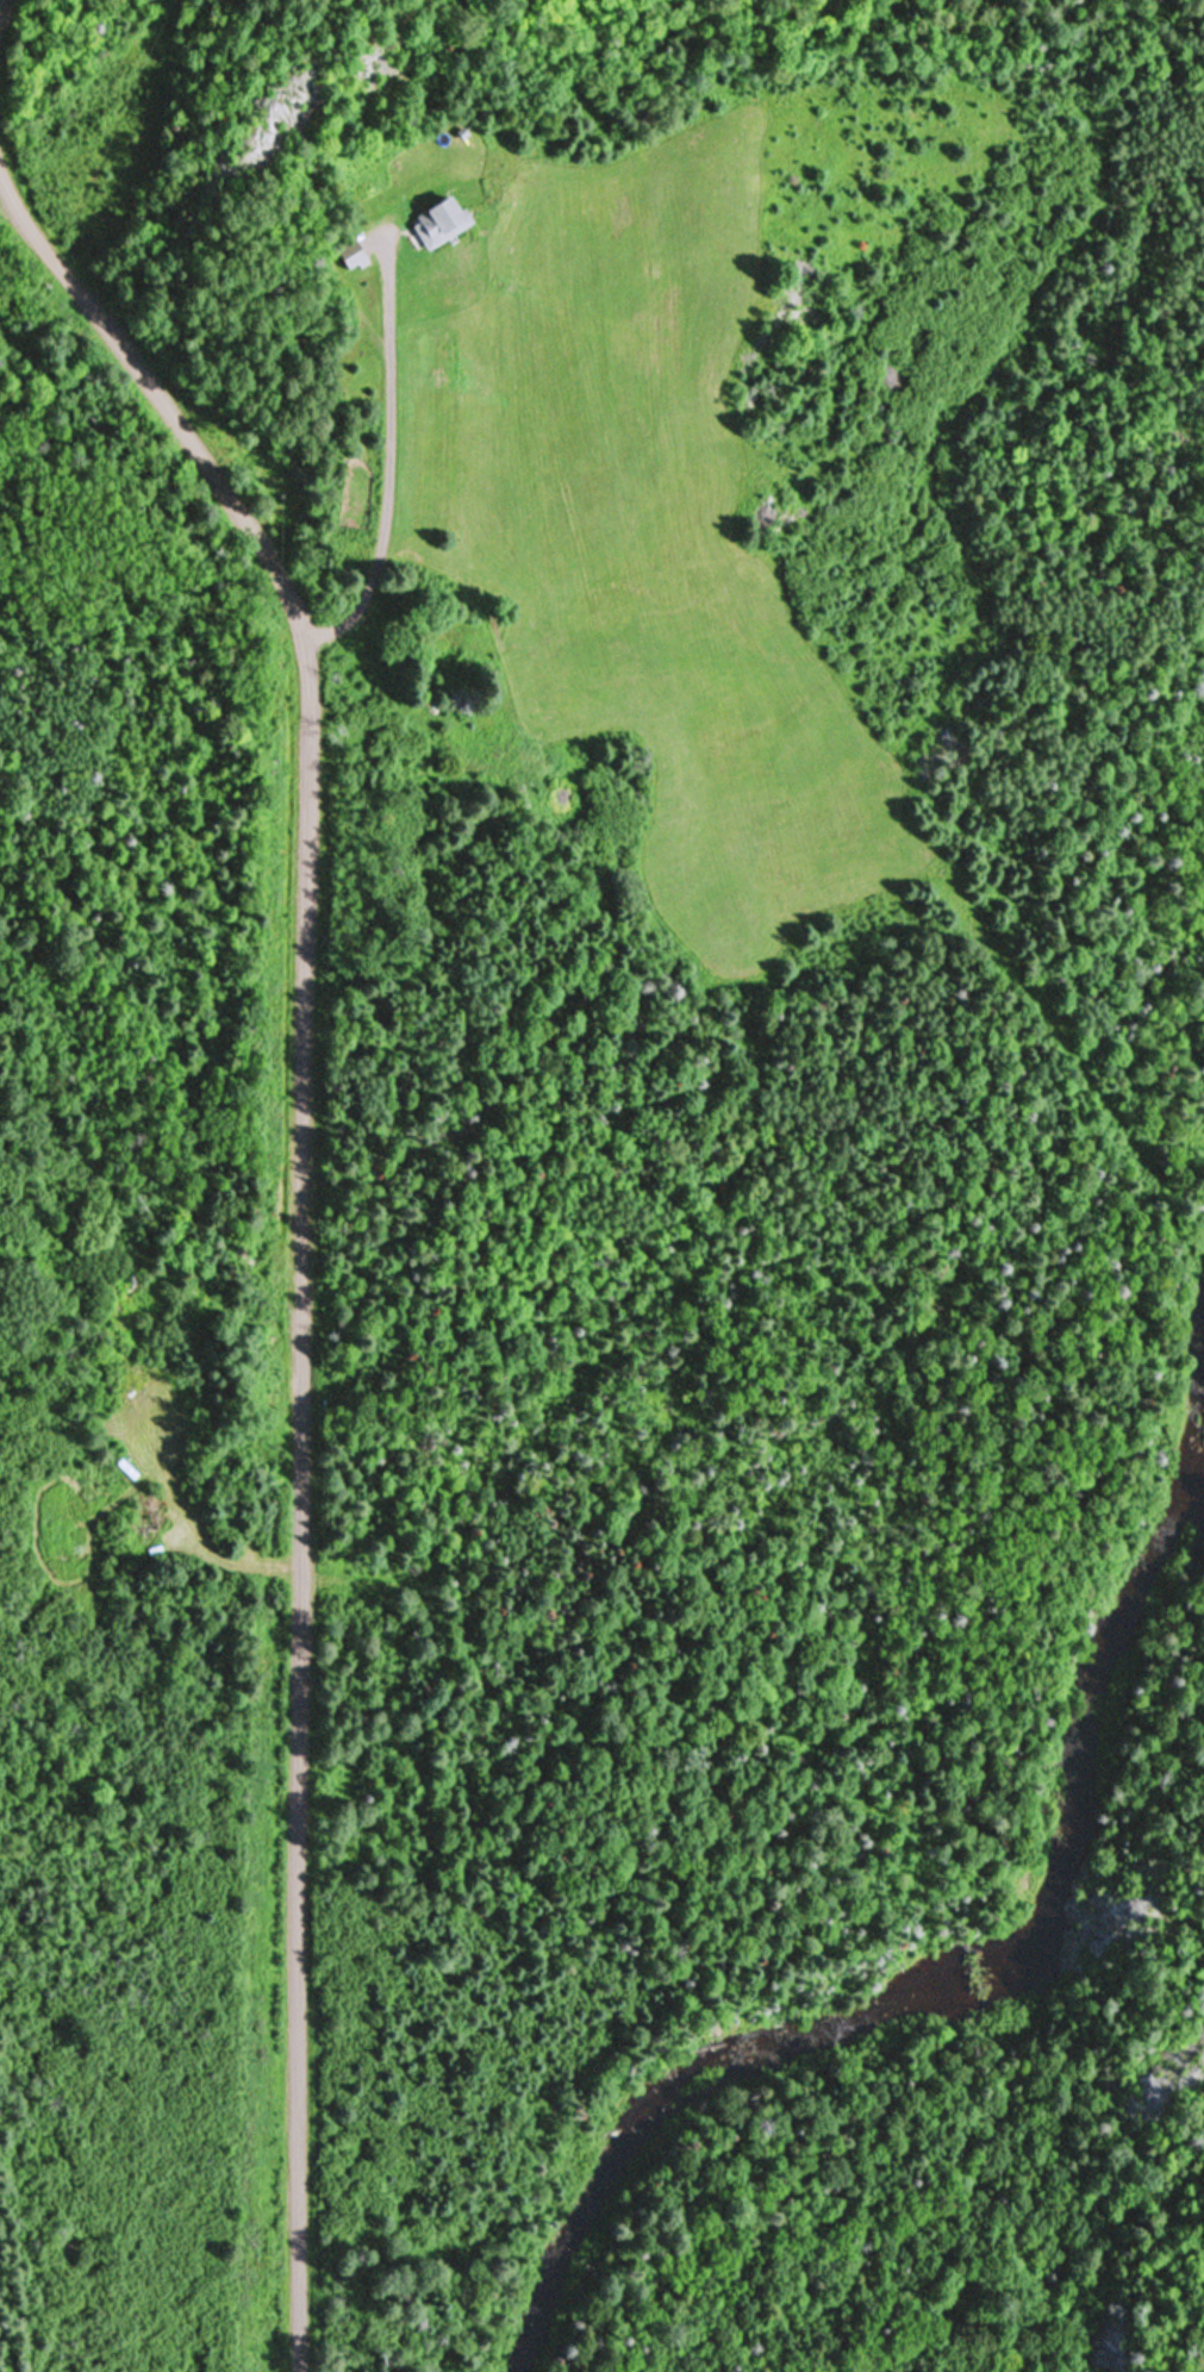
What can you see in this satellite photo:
building: (430, 221)
road: (263, 1249)
river: (1041, 1908)

